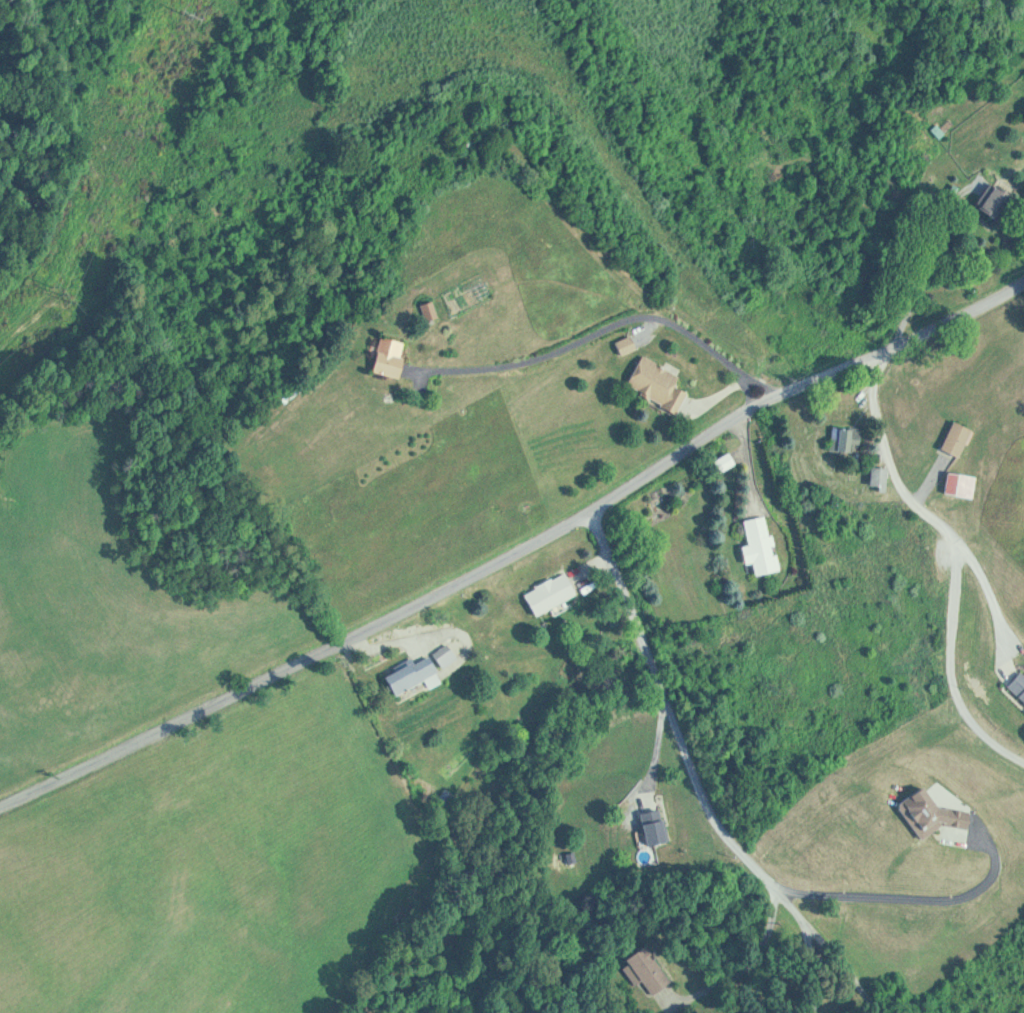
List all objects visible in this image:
power tower: (52, 297)
building: (434, 310)
road: (623, 319)
building: (630, 344)
building: (396, 356)
building: (661, 383)
building: (959, 437)
building: (851, 439)
building: (962, 484)
building: (763, 545)
road: (514, 548)
road: (957, 557)
road: (992, 585)
building: (553, 593)
building: (417, 674)
building: (1018, 685)
road: (693, 786)
building: (936, 812)
building: (657, 827)
road: (900, 899)
building: (650, 970)

